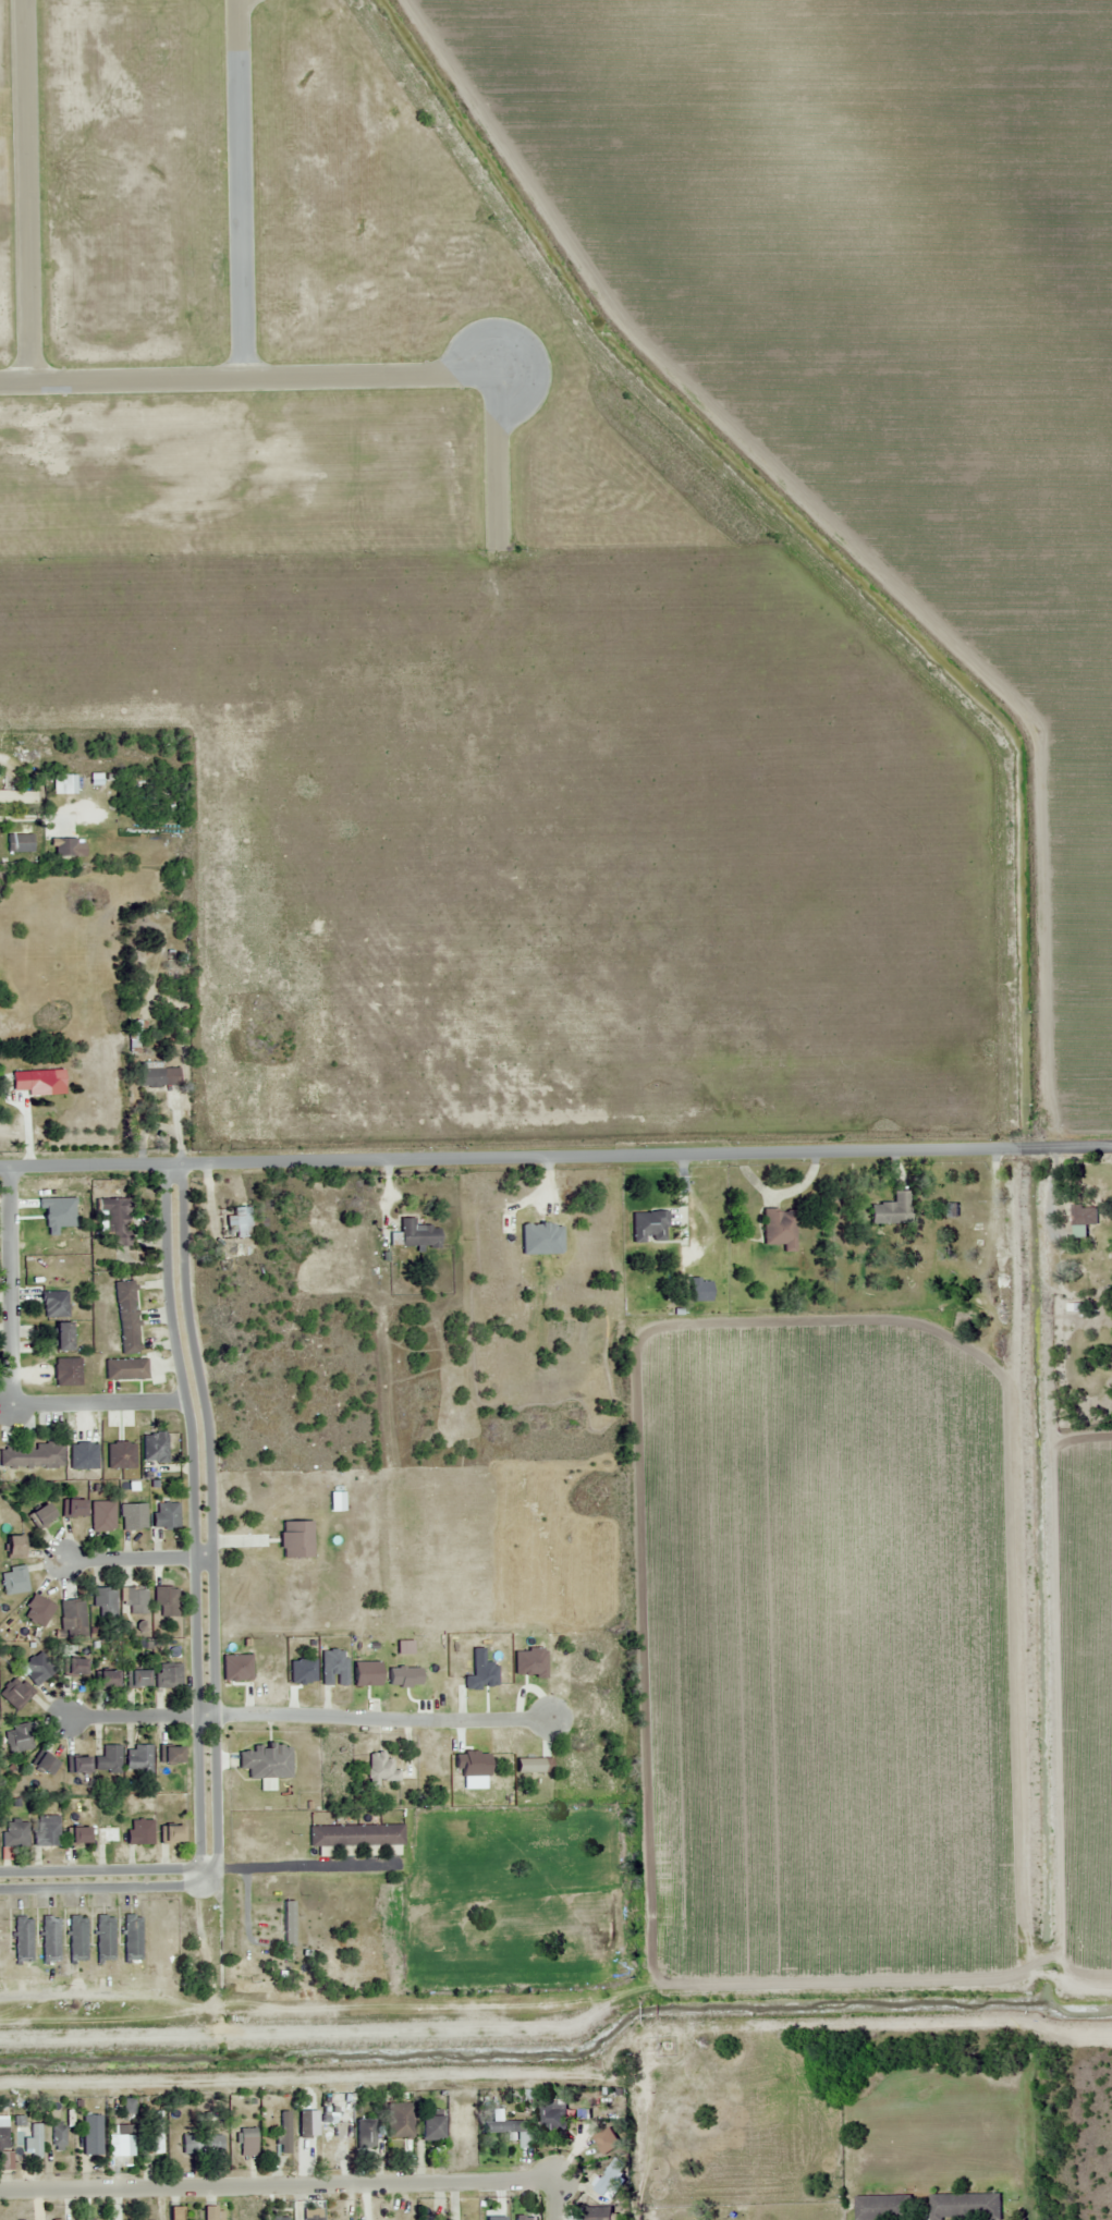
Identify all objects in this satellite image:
building: (56, 780)
building: (15, 795)
road: (11, 818)
building: (19, 843)
building: (64, 846)
building: (135, 1034)
building: (155, 1075)
building: (37, 1079)
road: (555, 1156)
building: (890, 1210)
building: (1084, 1216)
building: (112, 1221)
building: (241, 1221)
building: (648, 1227)
building: (779, 1229)
building: (414, 1235)
building: (1002, 1286)
building: (698, 1290)
building: (53, 1304)
building: (126, 1317)
building: (61, 1337)
building: (124, 1369)
building: (65, 1371)
road: (107, 1405)
building: (154, 1448)
building: (83, 1455)
building: (120, 1455)
building: (33, 1457)
building: (73, 1509)
building: (164, 1515)
building: (40, 1516)
building: (102, 1516)
building: (133, 1516)
road: (203, 1520)
building: (12, 1546)
building: (13, 1581)
building: (135, 1601)
building: (166, 1601)
building: (103, 1602)
building: (38, 1611)
building: (73, 1614)
building: (38, 1668)
building: (74, 1668)
building: (168, 1676)
building: (106, 1680)
building: (136, 1680)
building: (14, 1694)
road: (137, 1717)
building: (17, 1740)
building: (170, 1755)
building: (137, 1758)
building: (108, 1759)
building: (266, 1764)
building: (42, 1765)
building: (76, 1766)
building: (47, 1831)
building: (139, 1832)
building: (14, 1833)
building: (108, 1835)
building: (169, 1835)
building: (355, 1835)
building: (77, 1837)
road: (105, 1879)
building: (131, 1937)
building: (76, 1938)
building: (103, 1938)
building: (22, 1939)
building: (49, 1939)
building: (553, 2114)
building: (398, 2120)
building: (428, 2126)
building: (512, 2131)
building: (154, 2132)
building: (282, 2132)
building: (363, 2133)
building: (2, 2134)
building: (91, 2134)
building: (57, 2135)
building: (23, 2136)
building: (122, 2139)
building: (246, 2142)
building: (200, 2144)
building: (610, 2178)
road: (276, 2188)
road: (551, 2201)
building: (965, 2207)
building: (883, 2208)
building: (174, 2213)
building: (209, 2213)
building: (594, 2213)
building: (310, 2217)
building: (278, 2218)
building: (522, 2218)

